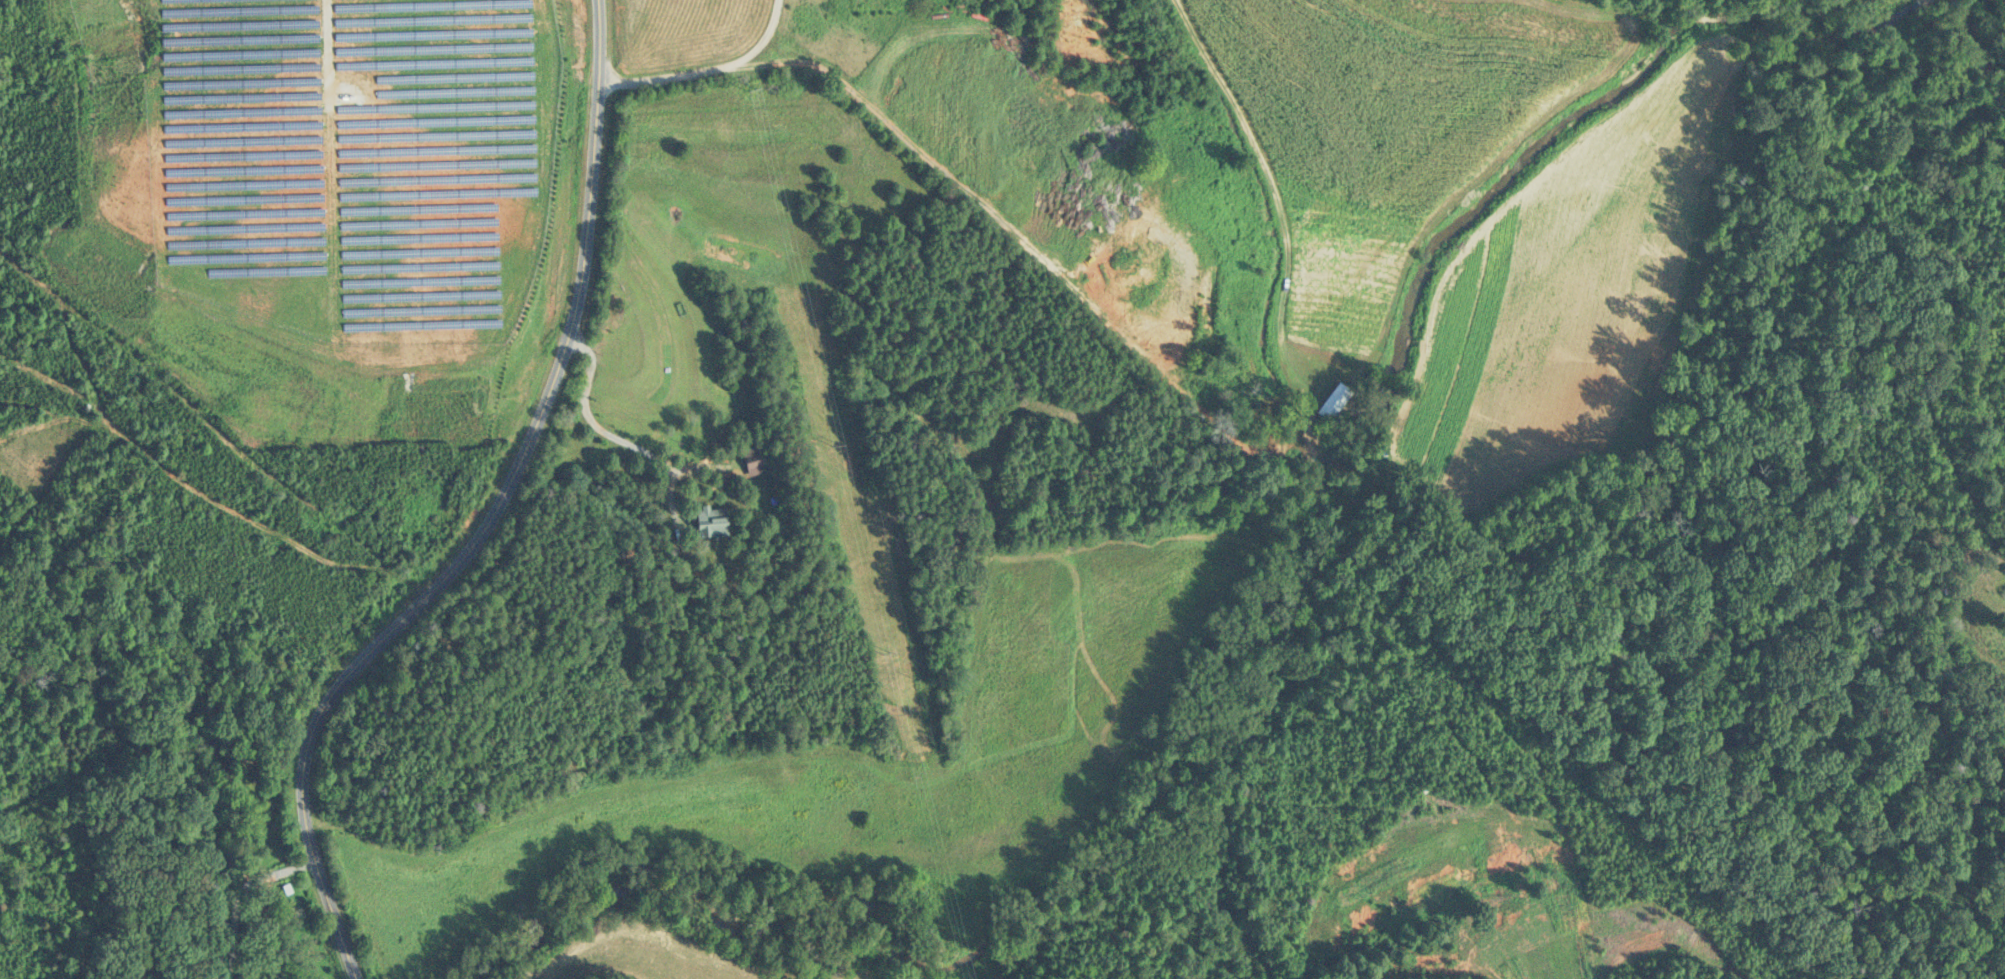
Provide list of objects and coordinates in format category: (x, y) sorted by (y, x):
road: (692, 56)
road: (617, 437)
building: (751, 458)
road: (492, 517)
building: (706, 520)
road: (240, 895)

